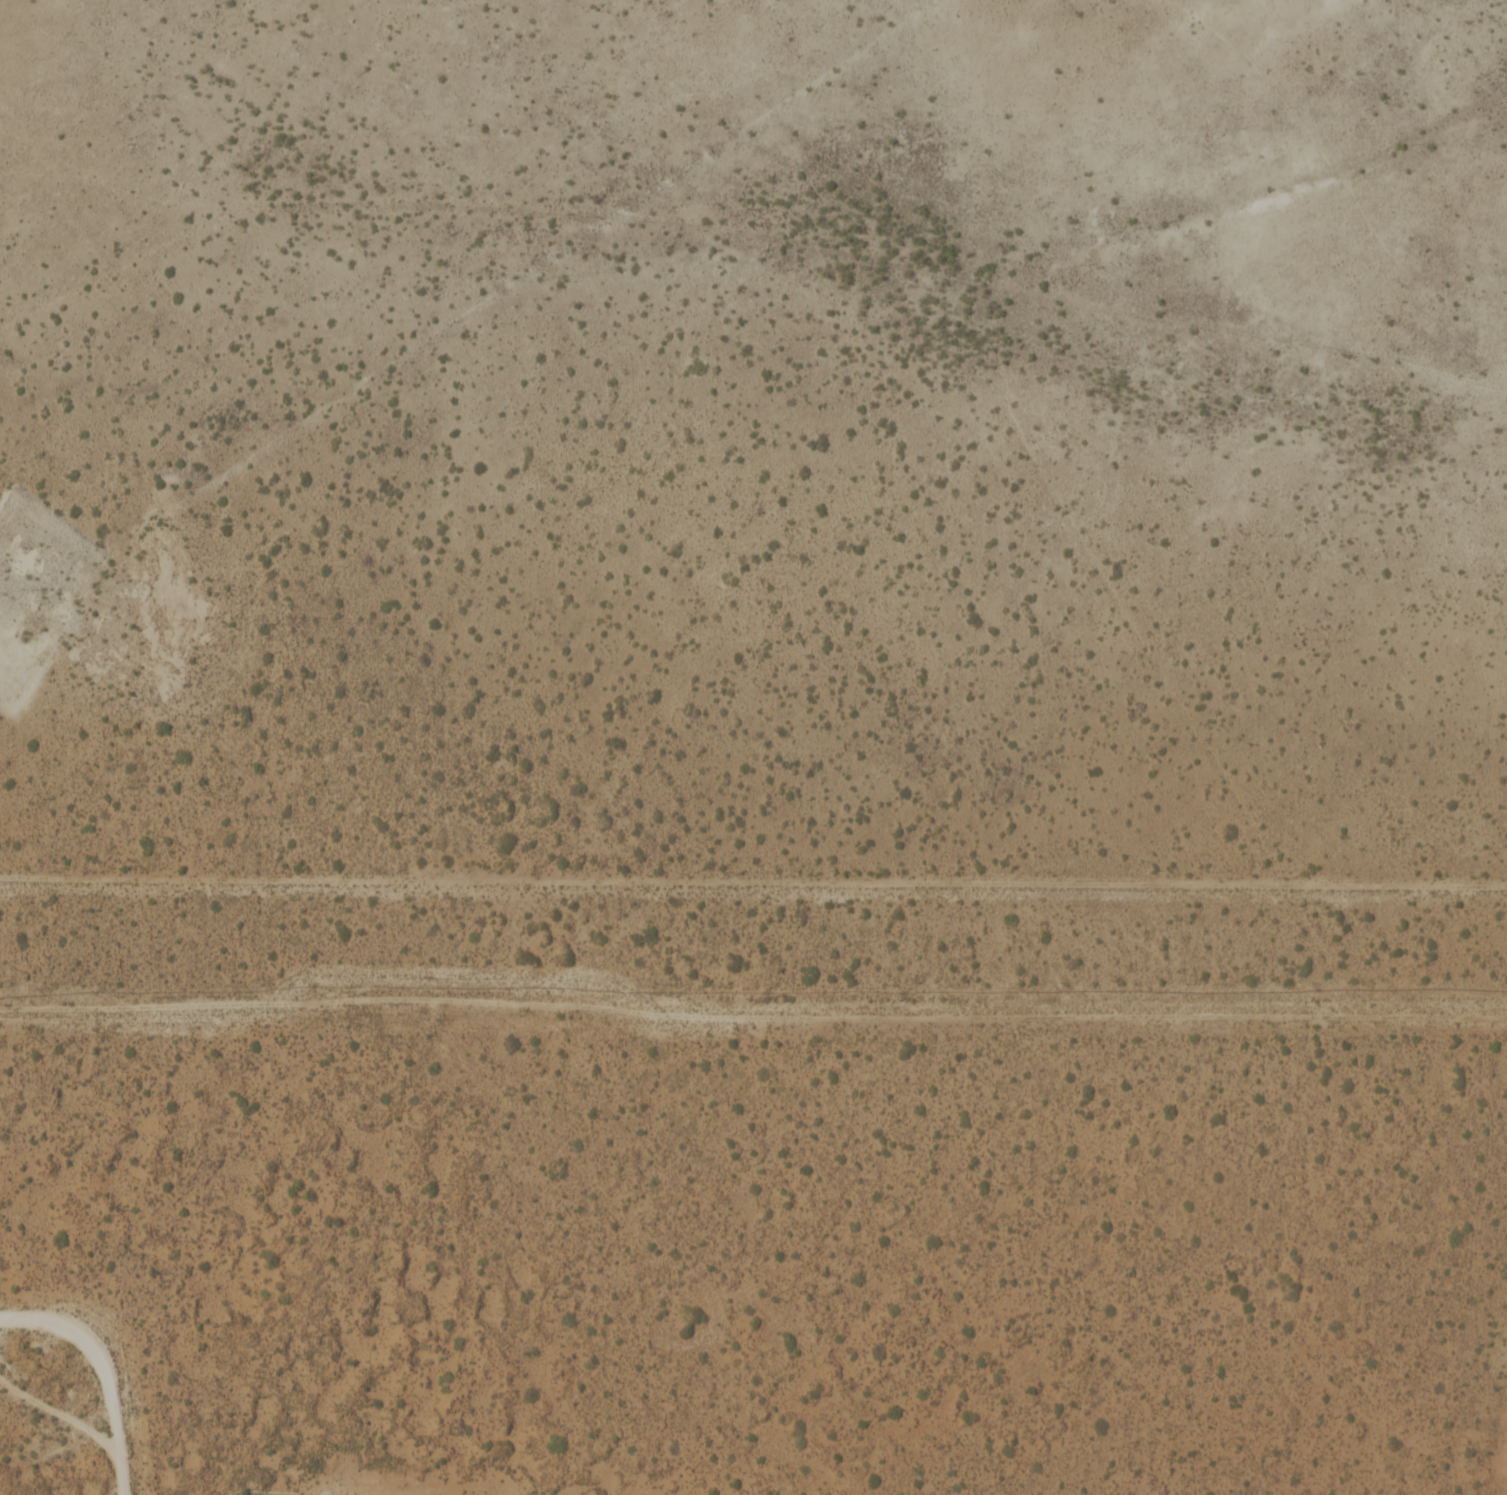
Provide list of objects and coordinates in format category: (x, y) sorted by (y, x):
road: (102, 1369)

